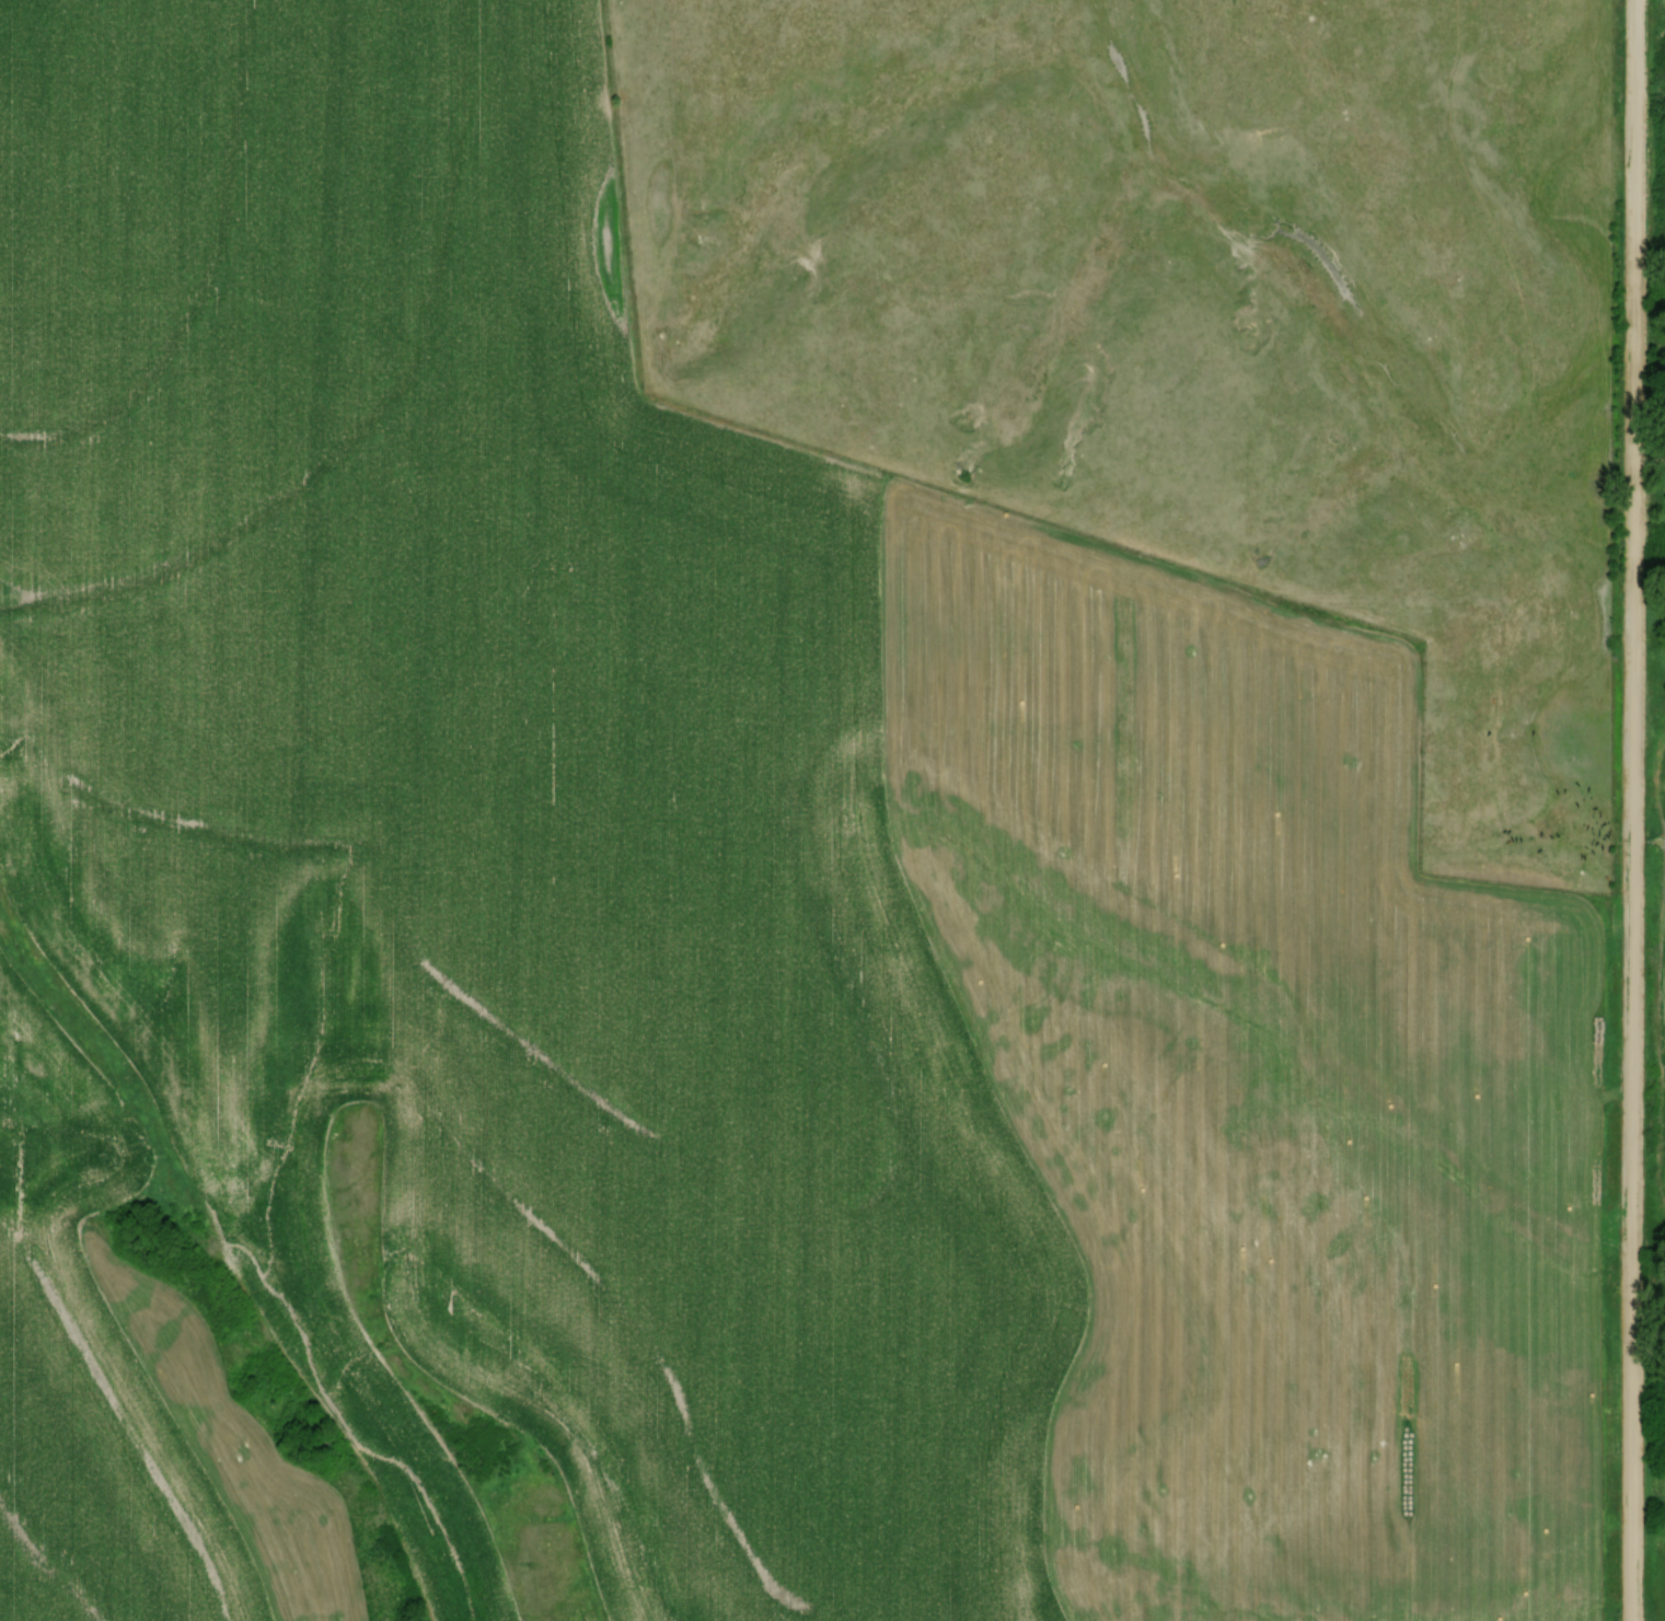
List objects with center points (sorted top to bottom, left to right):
road: (1637, 810)

